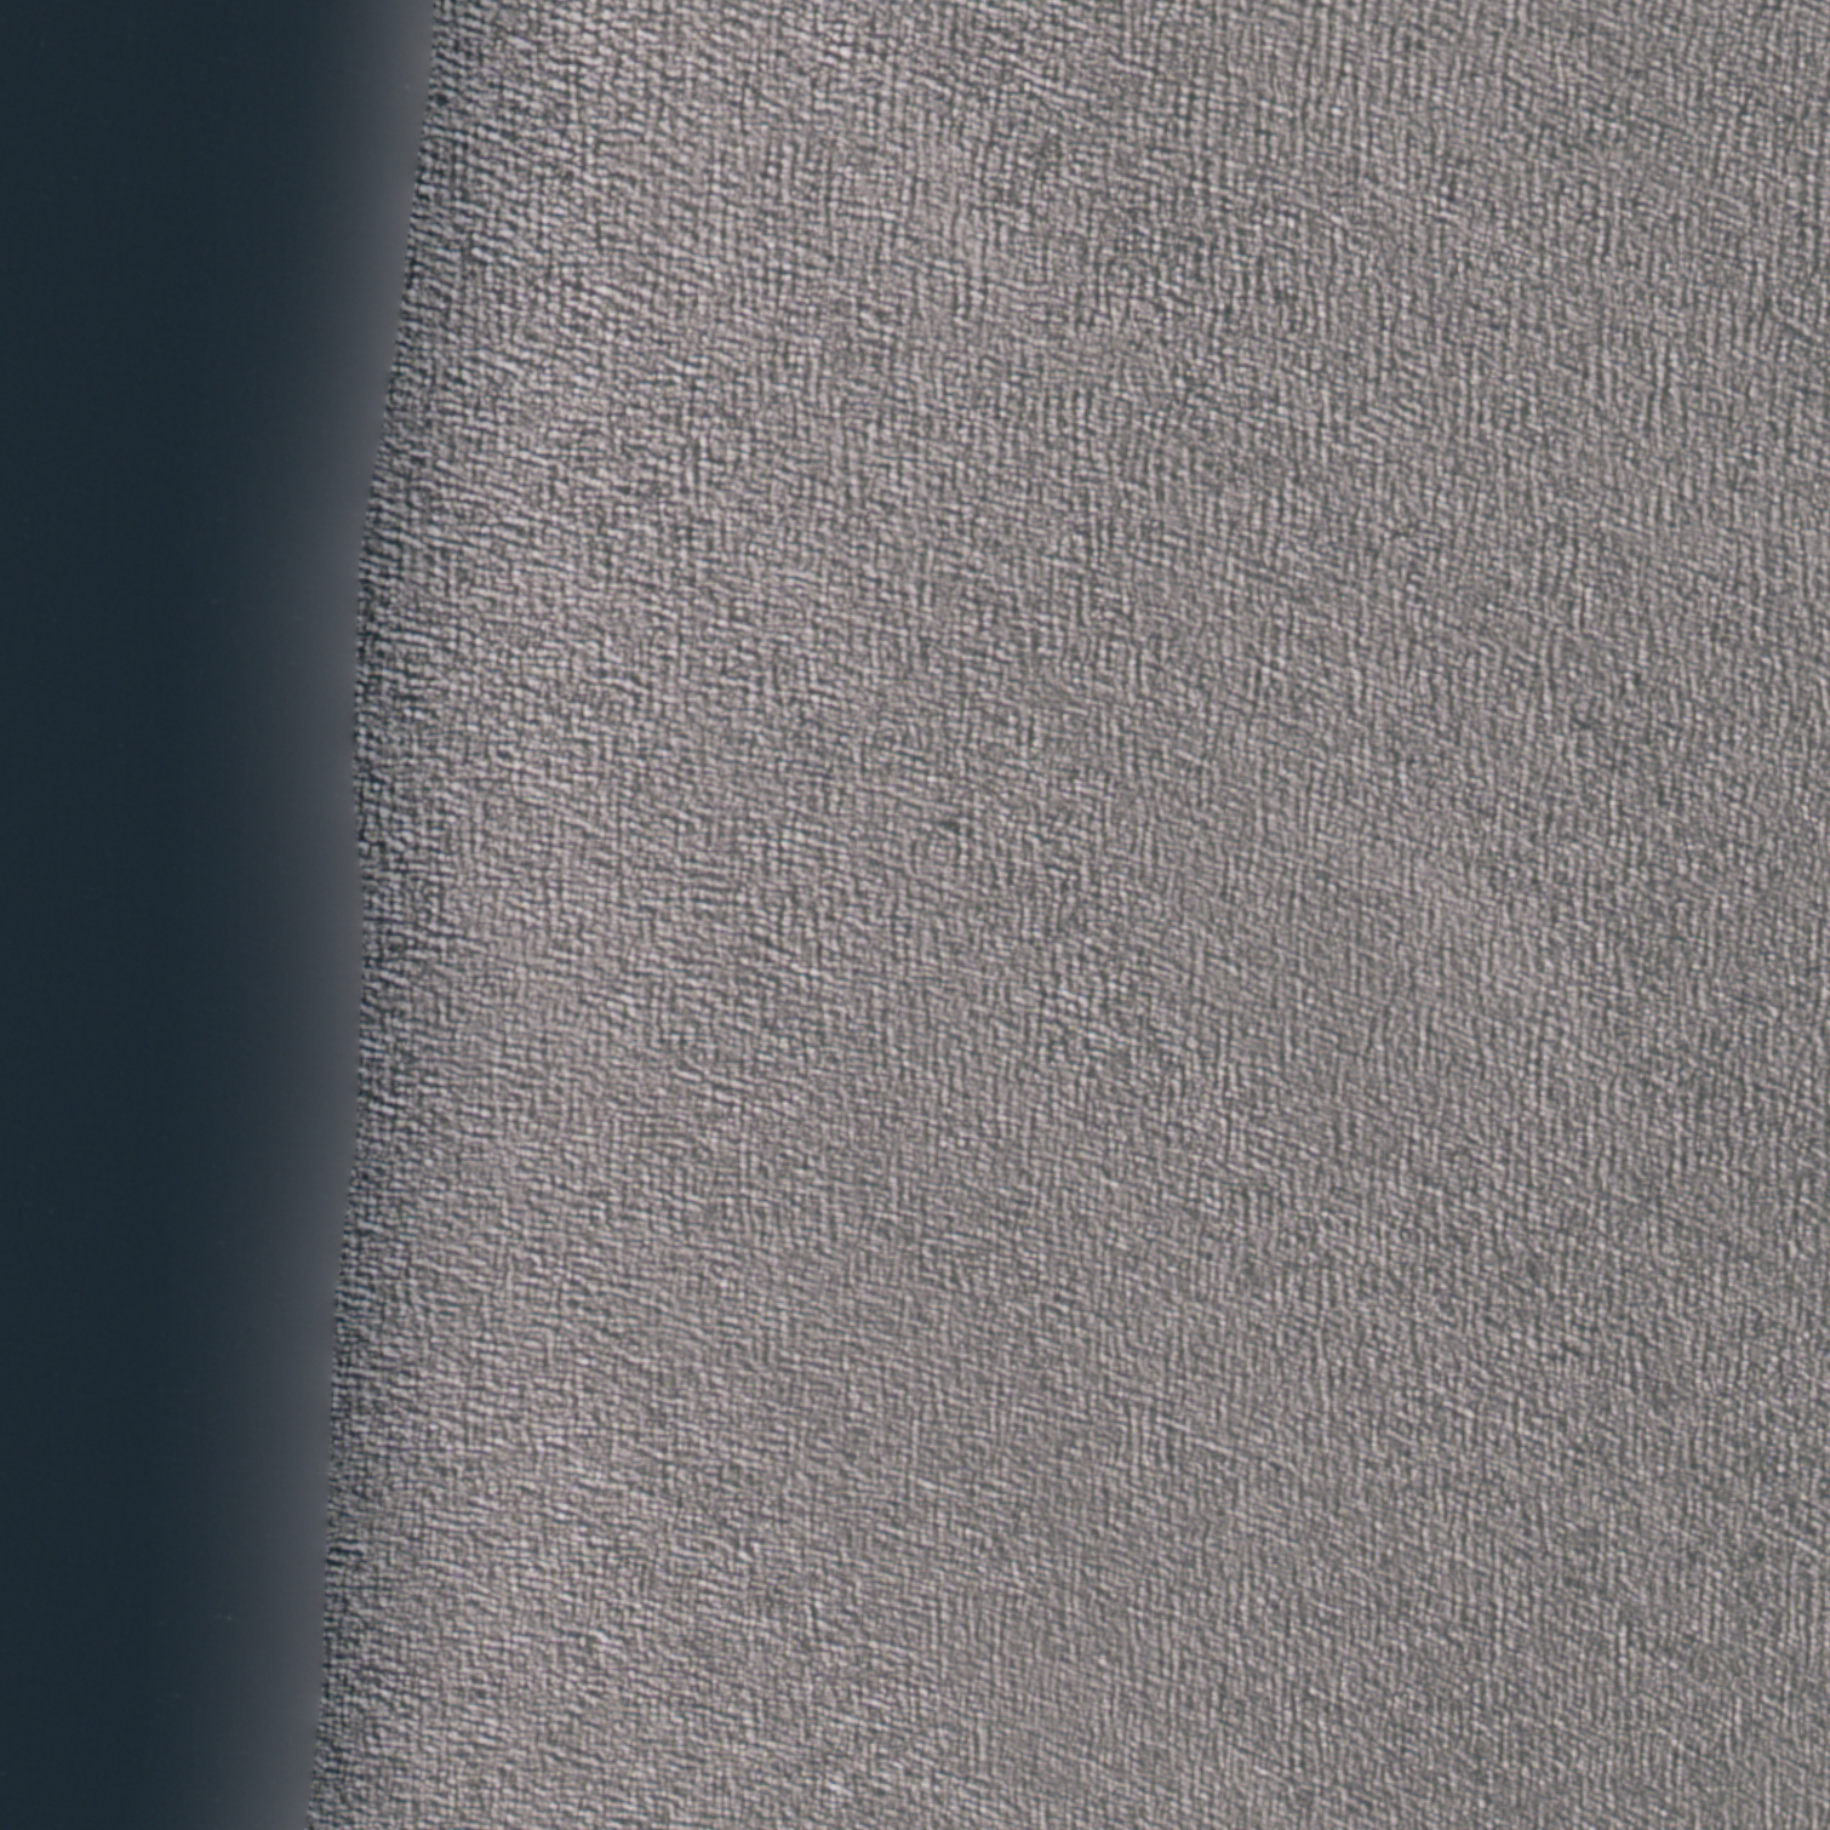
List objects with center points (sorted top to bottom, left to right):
river: (1688, 1745)

